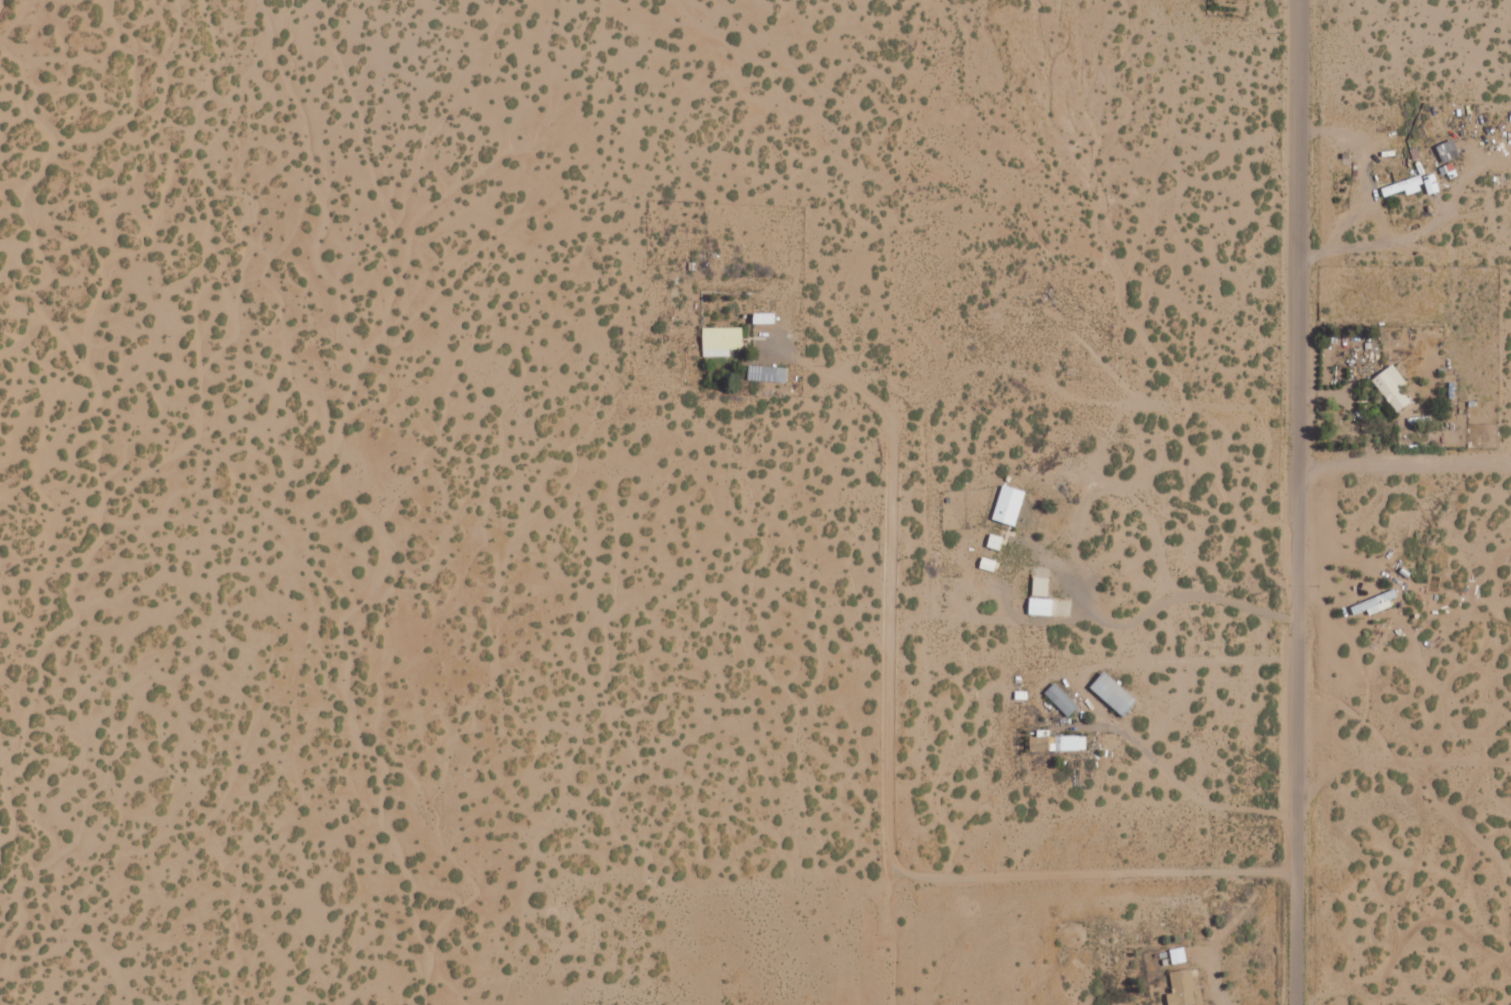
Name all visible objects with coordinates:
road: (966, 73)
road: (1299, 203)
building: (721, 340)
building: (767, 374)
building: (1393, 387)
road: (1262, 462)
building: (1009, 504)
building: (1041, 582)
building: (1040, 605)
road: (890, 662)
building: (1114, 693)
building: (1062, 699)
building: (1058, 743)
road: (1404, 768)
road: (1094, 874)
building: (1182, 988)

